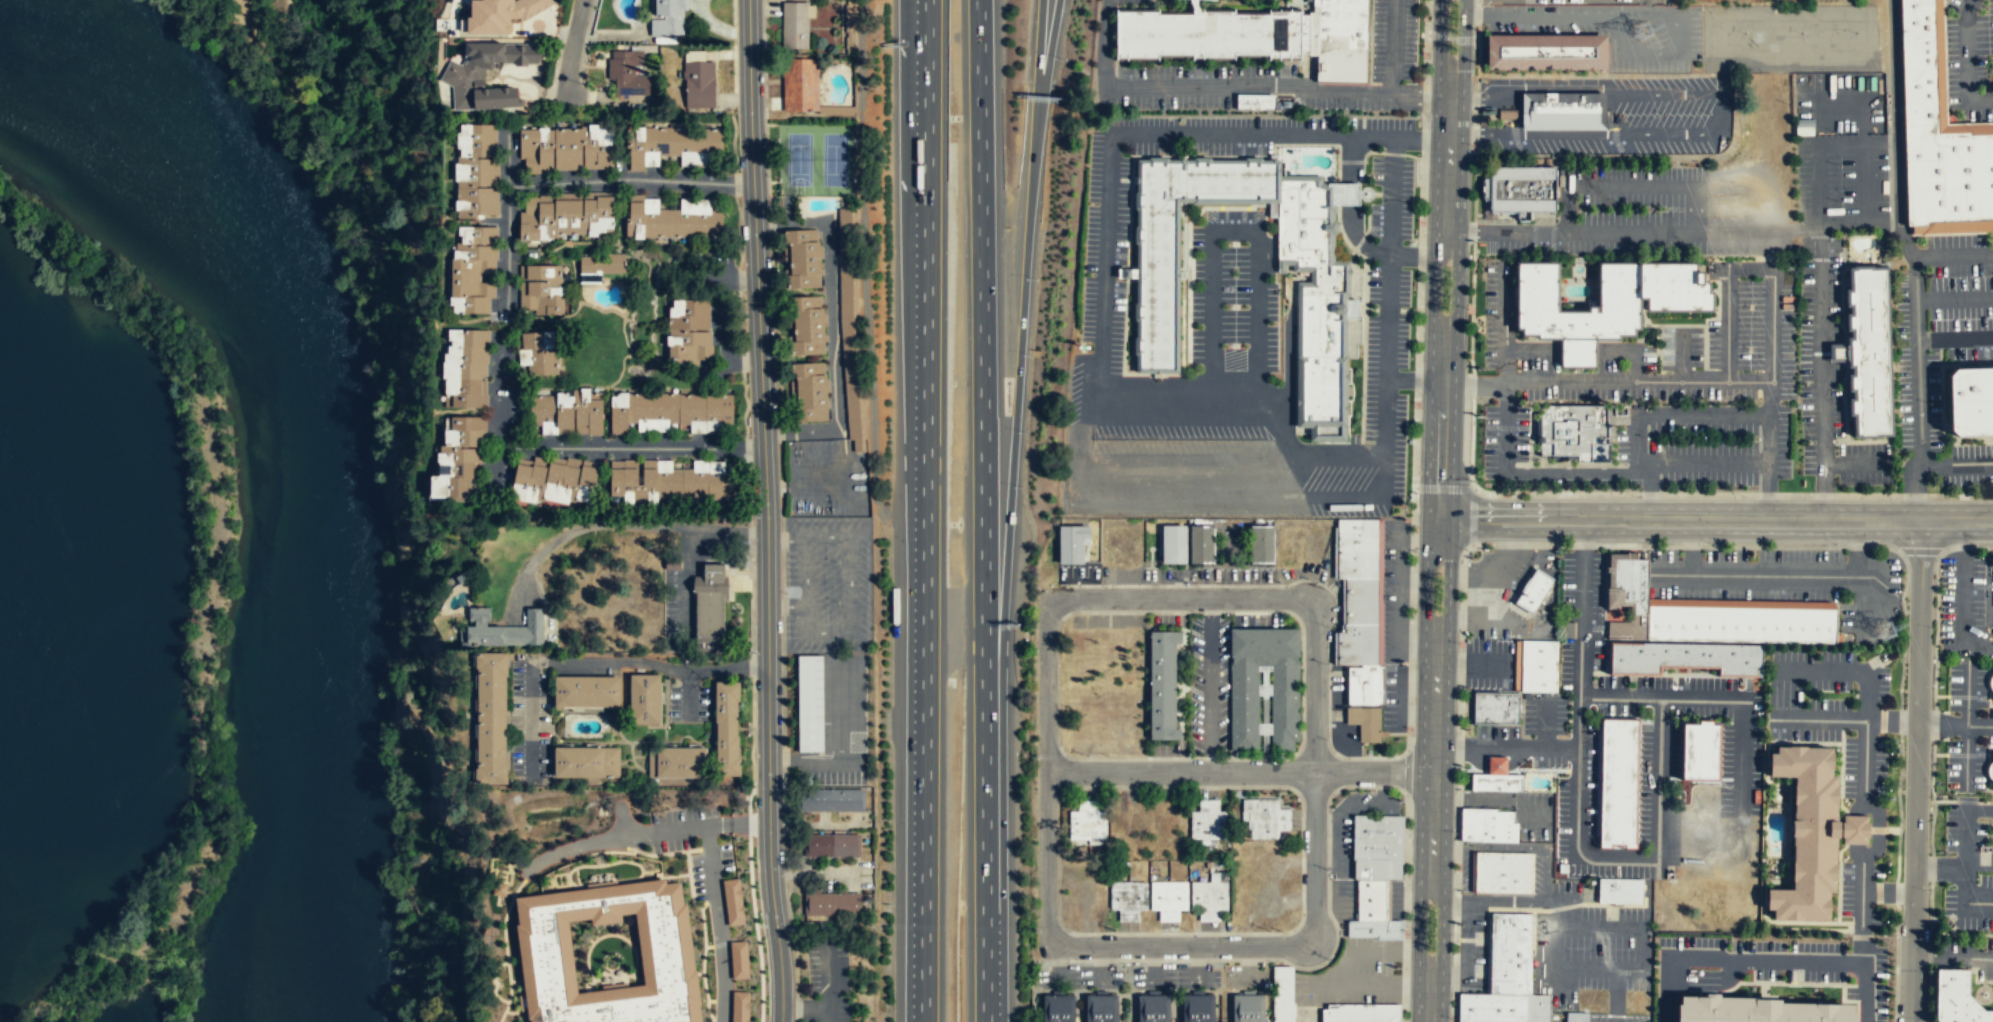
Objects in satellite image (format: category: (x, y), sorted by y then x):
parking lot: (1123, 1)
road: (1218, 2)
road: (1276, 2)
road: (1478, 2)
road: (1151, 5)
road: (1478, 13)
road: (1867, 13)
building: (501, 14)
road: (1539, 15)
road: (1664, 16)
building: (668, 18)
building: (449, 24)
building: (795, 25)
parking lot: (1612, 30)
building: (1255, 32)
power tower: (1643, 32)
building: (1916, 34)
road: (1436, 37)
road: (1464, 37)
parking lot: (1789, 38)
parking lot: (1394, 40)
road: (572, 45)
road: (1369, 45)
road: (1037, 47)
road: (1391, 48)
park: (323, 50)
building: (1548, 52)
road: (1628, 52)
road: (1477, 57)
road: (1966, 62)
road: (1720, 71)
building: (628, 73)
building: (463, 77)
building: (699, 84)
building: (801, 85)
road: (1583, 85)
road: (1232, 90)
road: (1939, 91)
building: (1917, 97)
road: (913, 98)
road: (1473, 100)
building: (1255, 102)
parking lot: (1837, 103)
road: (1860, 105)
building: (1564, 111)
road: (1473, 116)
parking lot: (1640, 120)
road: (1473, 133)
road: (1601, 133)
road: (1133, 134)
road: (1436, 138)
building: (670, 144)
road: (1324, 144)
street lamp: (1472, 145)
road: (1879, 145)
building: (566, 149)
road: (1447, 157)
park: (817, 159)
building: (475, 171)
building: (1946, 175)
parking lot: (1841, 177)
road: (1475, 181)
road: (570, 182)
road: (1864, 185)
road: (1629, 186)
building: (1523, 189)
road: (1392, 196)
building: (566, 215)
parking lot: (1614, 215)
building: (671, 220)
road: (1951, 228)
road: (1235, 231)
road: (1474, 231)
road: (1671, 232)
road: (1355, 234)
parking lot: (1747, 235)
road: (1189, 250)
road: (1953, 256)
building: (801, 259)
road: (1914, 260)
building: (602, 266)
building: (472, 269)
road: (1749, 269)
road: (1430, 285)
road: (1455, 285)
building: (541, 290)
parking lot: (1234, 293)
building: (1609, 297)
road: (1954, 298)
road: (1471, 307)
street lamp: (1467, 308)
road: (1820, 310)
road: (1704, 319)
building: (849, 324)
road: (1502, 324)
building: (808, 325)
building: (1321, 325)
road: (1644, 327)
road: (1830, 330)
building: (687, 332)
road: (1577, 338)
road: (1537, 339)
road: (1574, 339)
road: (1955, 339)
building: (1866, 350)
road: (1530, 352)
road: (1835, 352)
building: (538, 353)
road: (1019, 353)
road: (1574, 353)
road: (1624, 353)
road: (1680, 354)
building: (465, 369)
road: (1150, 373)
road: (1415, 373)
road: (1831, 375)
parking lot: (1830, 377)
road: (1414, 379)
parking lot: (1919, 379)
road: (1706, 380)
road: (1212, 385)
road: (1255, 385)
road: (1473, 385)
road: (1474, 385)
building: (809, 391)
building: (1969, 400)
road: (1385, 402)
road: (1187, 406)
building: (669, 412)
building: (566, 414)
road: (1675, 414)
building: (1570, 428)
road: (1610, 428)
road: (1283, 429)
road: (1529, 433)
road: (1440, 437)
parking lot: (1504, 438)
road: (1471, 442)
road: (1077, 443)
parking lot: (1704, 443)
road: (580, 446)
river: (315, 452)
building: (457, 459)
road: (764, 459)
road: (1182, 459)
road: (1708, 462)
road: (1957, 463)
road: (1570, 464)
road: (1855, 465)
road: (1535, 471)
road: (1287, 473)
building: (669, 481)
building: (554, 483)
road: (1443, 488)
road: (1650, 490)
road: (1733, 492)
road: (1181, 494)
street lamp: (1505, 495)
road: (1356, 496)
street lamp: (1635, 496)
street lamp: (1745, 496)
street lamp: (1948, 497)
road: (984, 510)
road: (924, 511)
road: (1716, 519)
road: (577, 530)
road: (730, 533)
street lamp: (1711, 542)
street lamp: (1836, 543)
building: (1072, 544)
building: (1262, 544)
street lamp: (1974, 544)
building: (1172, 545)
building: (1202, 545)
road: (1966, 546)
building: (1357, 548)
road: (1494, 569)
road: (805, 572)
road: (1672, 574)
road: (1773, 575)
road: (1963, 580)
road: (685, 583)
parking lot: (828, 584)
road: (1422, 588)
building: (1531, 588)
road: (1448, 589)
road: (1862, 593)
building: (1626, 594)
road: (850, 596)
road: (1184, 598)
building: (1361, 600)
building: (706, 604)
road: (1486, 612)
building: (1738, 622)
street lamp: (1932, 628)
building: (502, 630)
power tower: (1892, 633)
street lamp: (1458, 643)
building: (1358, 644)
building: (1682, 654)
road: (1470, 661)
parking lot: (1490, 663)
building: (1535, 664)
road: (1845, 669)
road: (693, 670)
road: (531, 675)
building: (1162, 685)
building: (1366, 685)
building: (586, 691)
road: (688, 695)
building: (644, 699)
building: (810, 704)
building: (1283, 704)
building: (1493, 706)
parking lot: (1832, 709)
road: (838, 711)
building: (491, 719)
road: (1821, 720)
building: (1365, 722)
road: (1544, 724)
building: (727, 728)
road: (1966, 740)
road: (1506, 747)
road: (1866, 747)
building: (1694, 748)
road: (1988, 748)
road: (1981, 754)
road: (1433, 756)
road: (1740, 760)
building: (587, 762)
building: (676, 762)
road: (813, 763)
road: (1239, 771)
road: (1916, 771)
road: (1407, 772)
building: (1614, 780)
building: (1497, 782)
street lamp: (1901, 785)
road: (1931, 785)
building: (832, 801)
road: (1963, 801)
parking lot: (1519, 810)
building: (1263, 820)
building: (1209, 822)
building: (1087, 823)
building: (1487, 824)
building: (1856, 828)
road: (1875, 829)
road: (644, 831)
street lamp: (1454, 832)
building: (1811, 832)
parking lot: (1966, 840)
building: (832, 846)
building: (1378, 846)
road: (1513, 846)
road: (1577, 846)
road: (1966, 852)
parking lot: (1465, 865)
building: (1560, 867)
building: (1473, 871)
building: (1504, 872)
building: (1620, 890)
street lamp: (1928, 890)
road: (1888, 892)
building: (1208, 898)
building: (1127, 899)
building: (1168, 899)
building: (1371, 899)
road: (1965, 899)
road: (1492, 900)
building: (732, 902)
parking lot: (1970, 904)
building: (829, 905)
road: (1405, 908)
road: (718, 923)
road: (1415, 924)
road: (1440, 925)
building: (1375, 928)
road: (1961, 933)
parking lot: (1583, 939)
parking lot: (1471, 944)
road: (1180, 947)
building: (1511, 952)
building: (606, 955)
parking lot: (1784, 955)
parking lot: (1965, 955)
road: (1953, 957)
building: (738, 960)
road: (1767, 961)
road: (1618, 966)
road: (780, 970)
street lamp: (1931, 970)
road: (1975, 977)
road: (1988, 981)
road: (1984, 984)
building: (1282, 994)
road: (1427, 994)
road: (1618, 994)
road: (1992, 994)
road: (1978, 996)
building: (1955, 998)
building: (739, 1006)
building: (1492, 1007)
building: (1058, 1008)
building: (1101, 1008)
building: (1153, 1008)
building: (1197, 1008)
building: (1248, 1008)
building: (1538, 1008)
road: (809, 1009)
building: (1762, 1010)
building: (1361, 1013)
building: (1577, 1017)
parking lot: (1618, 1017)
street lamp: (1451, 1018)

